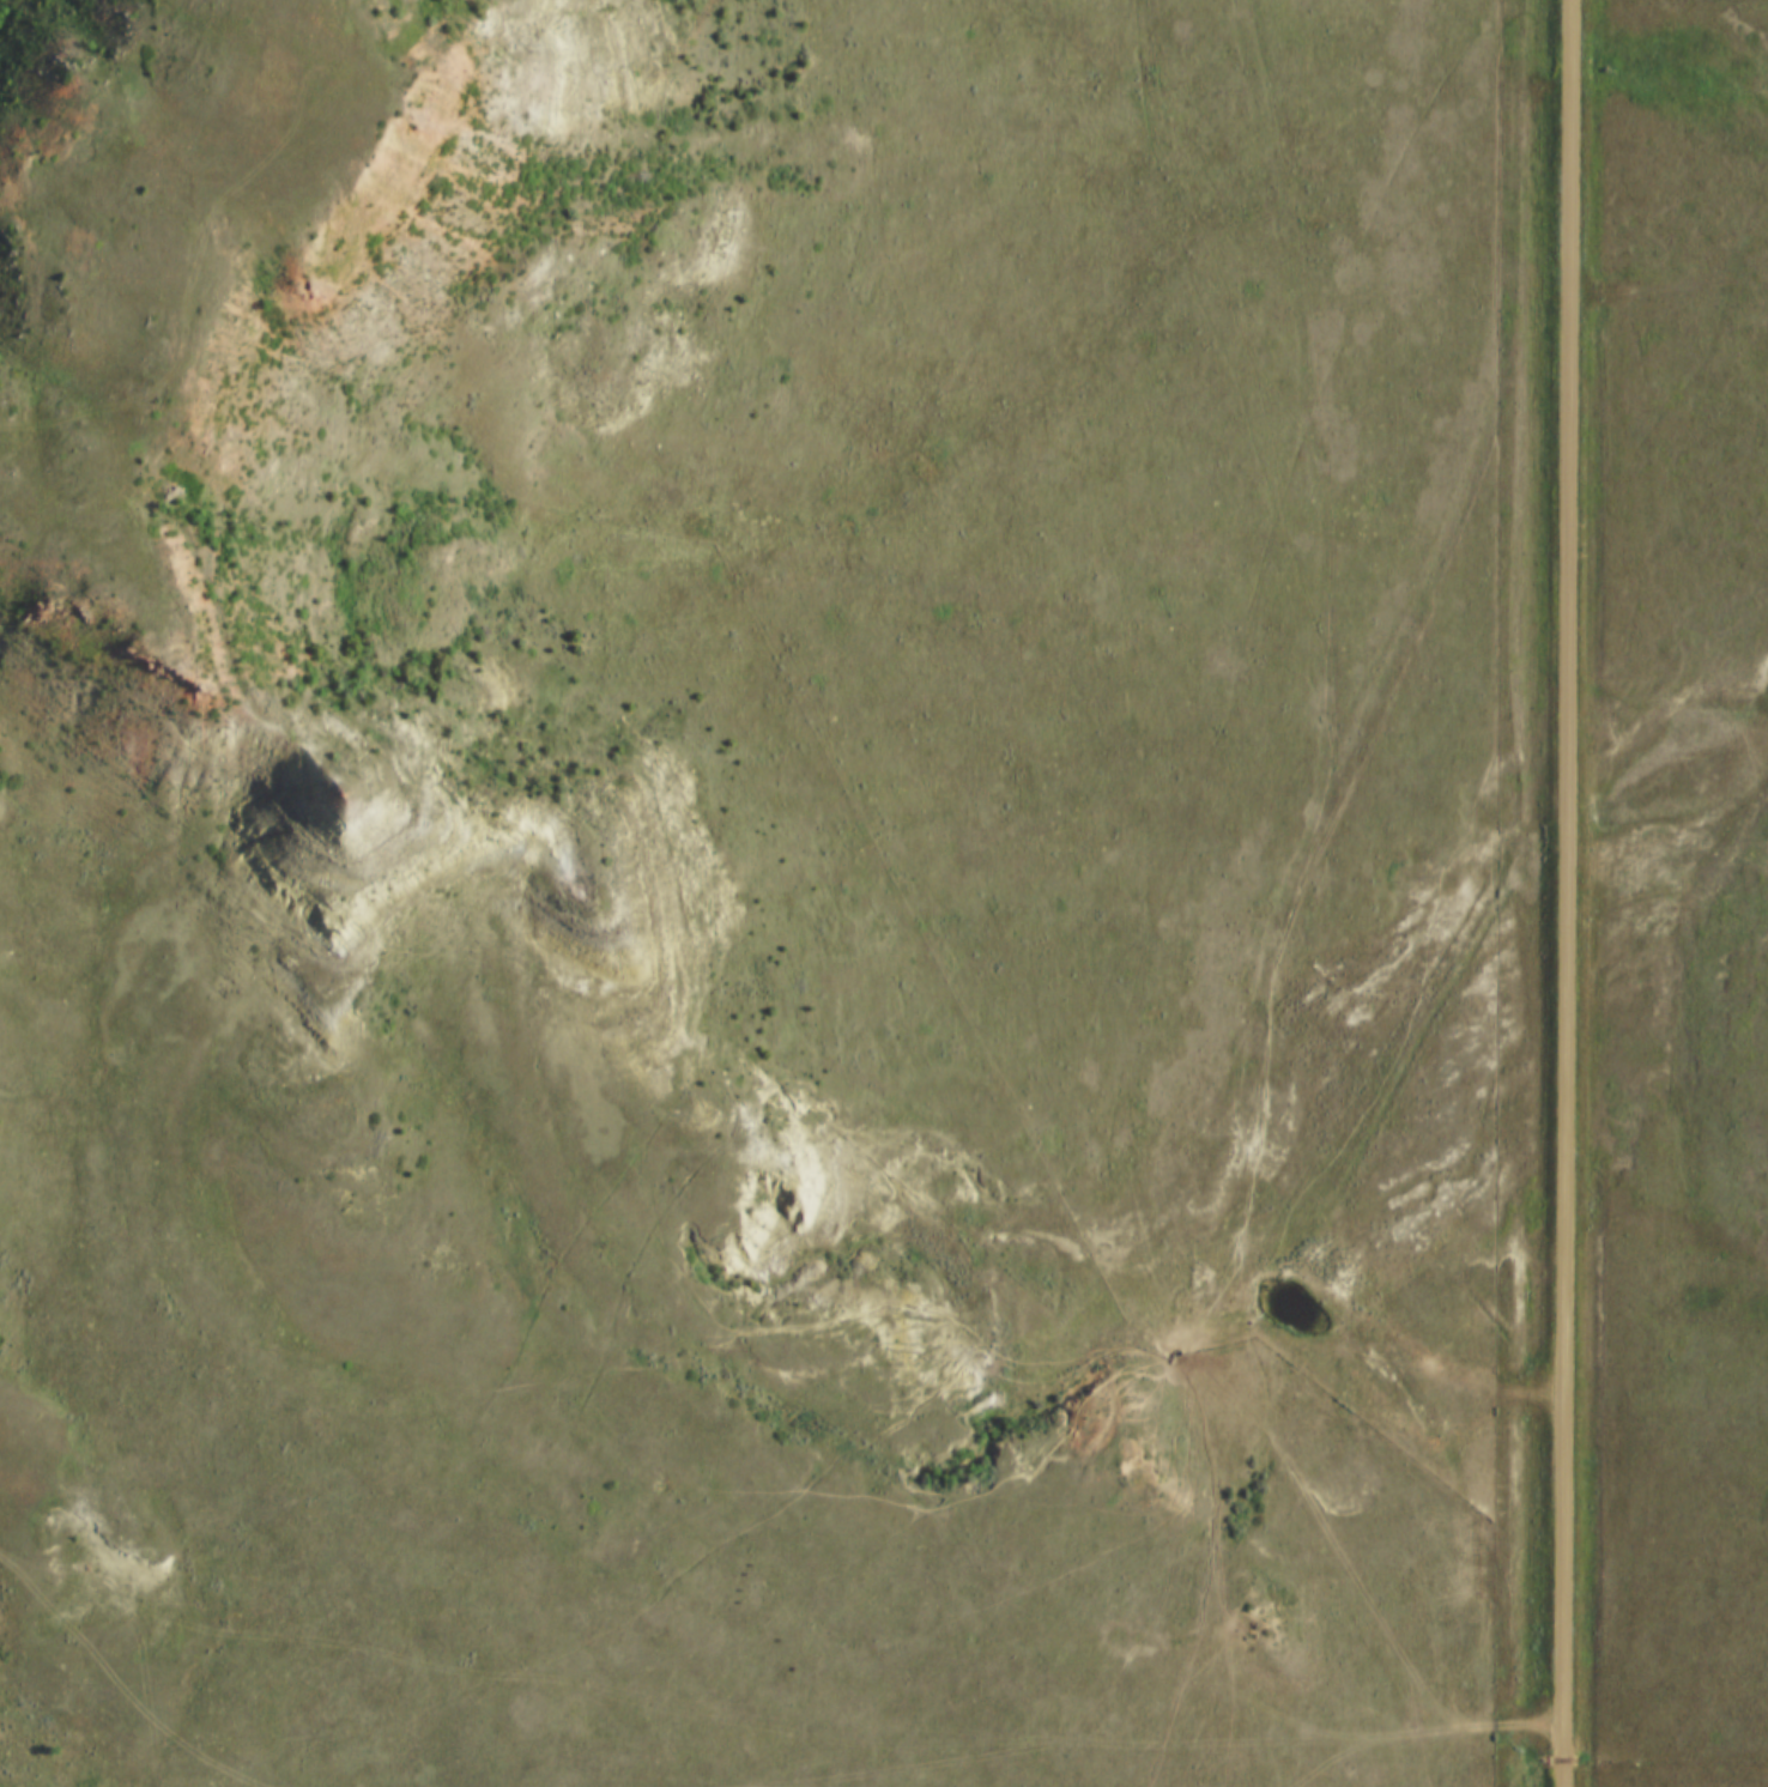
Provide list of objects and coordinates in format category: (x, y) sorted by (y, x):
road: (1667, 287)
road: (1569, 893)

